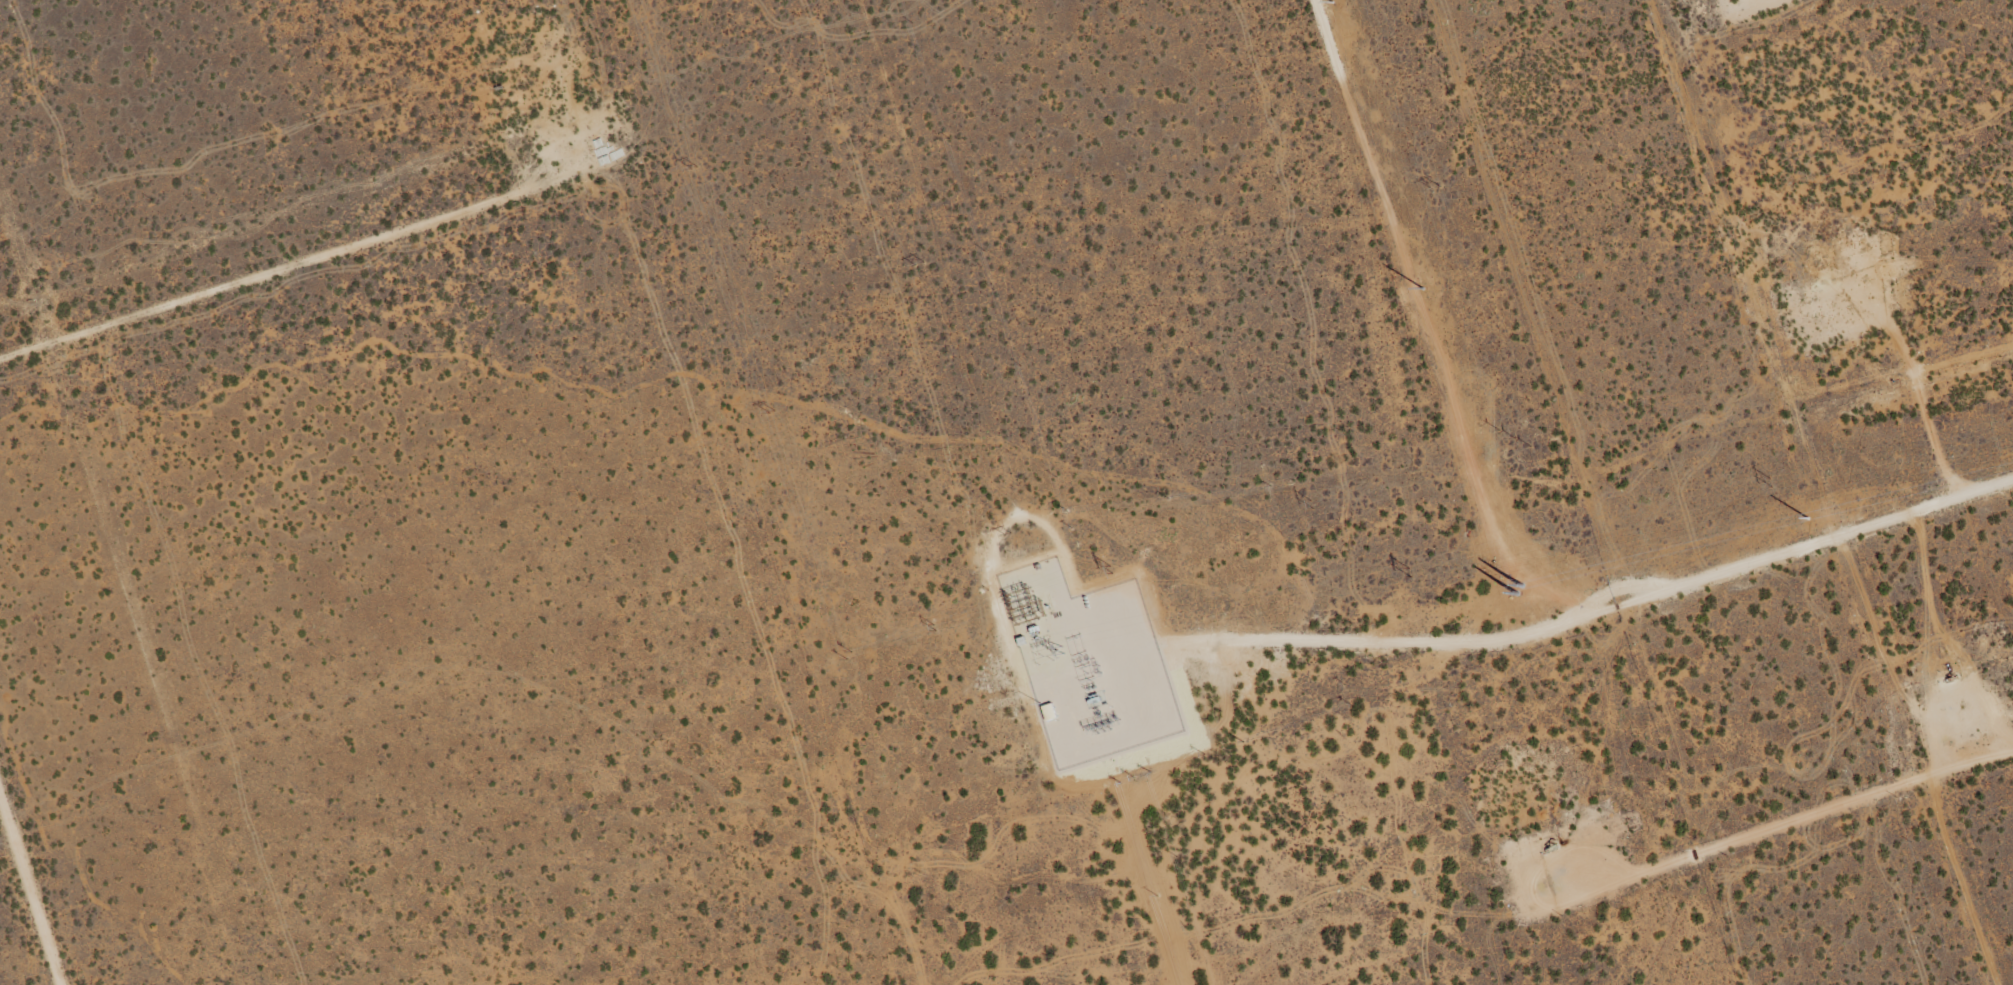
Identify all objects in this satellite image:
road: (1774, 6)
power tower: (694, 169)
power tower: (1436, 192)
power tower: (919, 265)
road: (234, 276)
power tower: (771, 413)
power tower: (1514, 444)
power tower: (1769, 482)
power tower: (1312, 513)
power tower: (1006, 537)
power tower: (1112, 571)
power tower: (1408, 573)
power tower: (935, 631)
road: (1574, 633)
power tower: (849, 657)
power substation: (1090, 664)
road: (1804, 833)
road: (31, 889)

